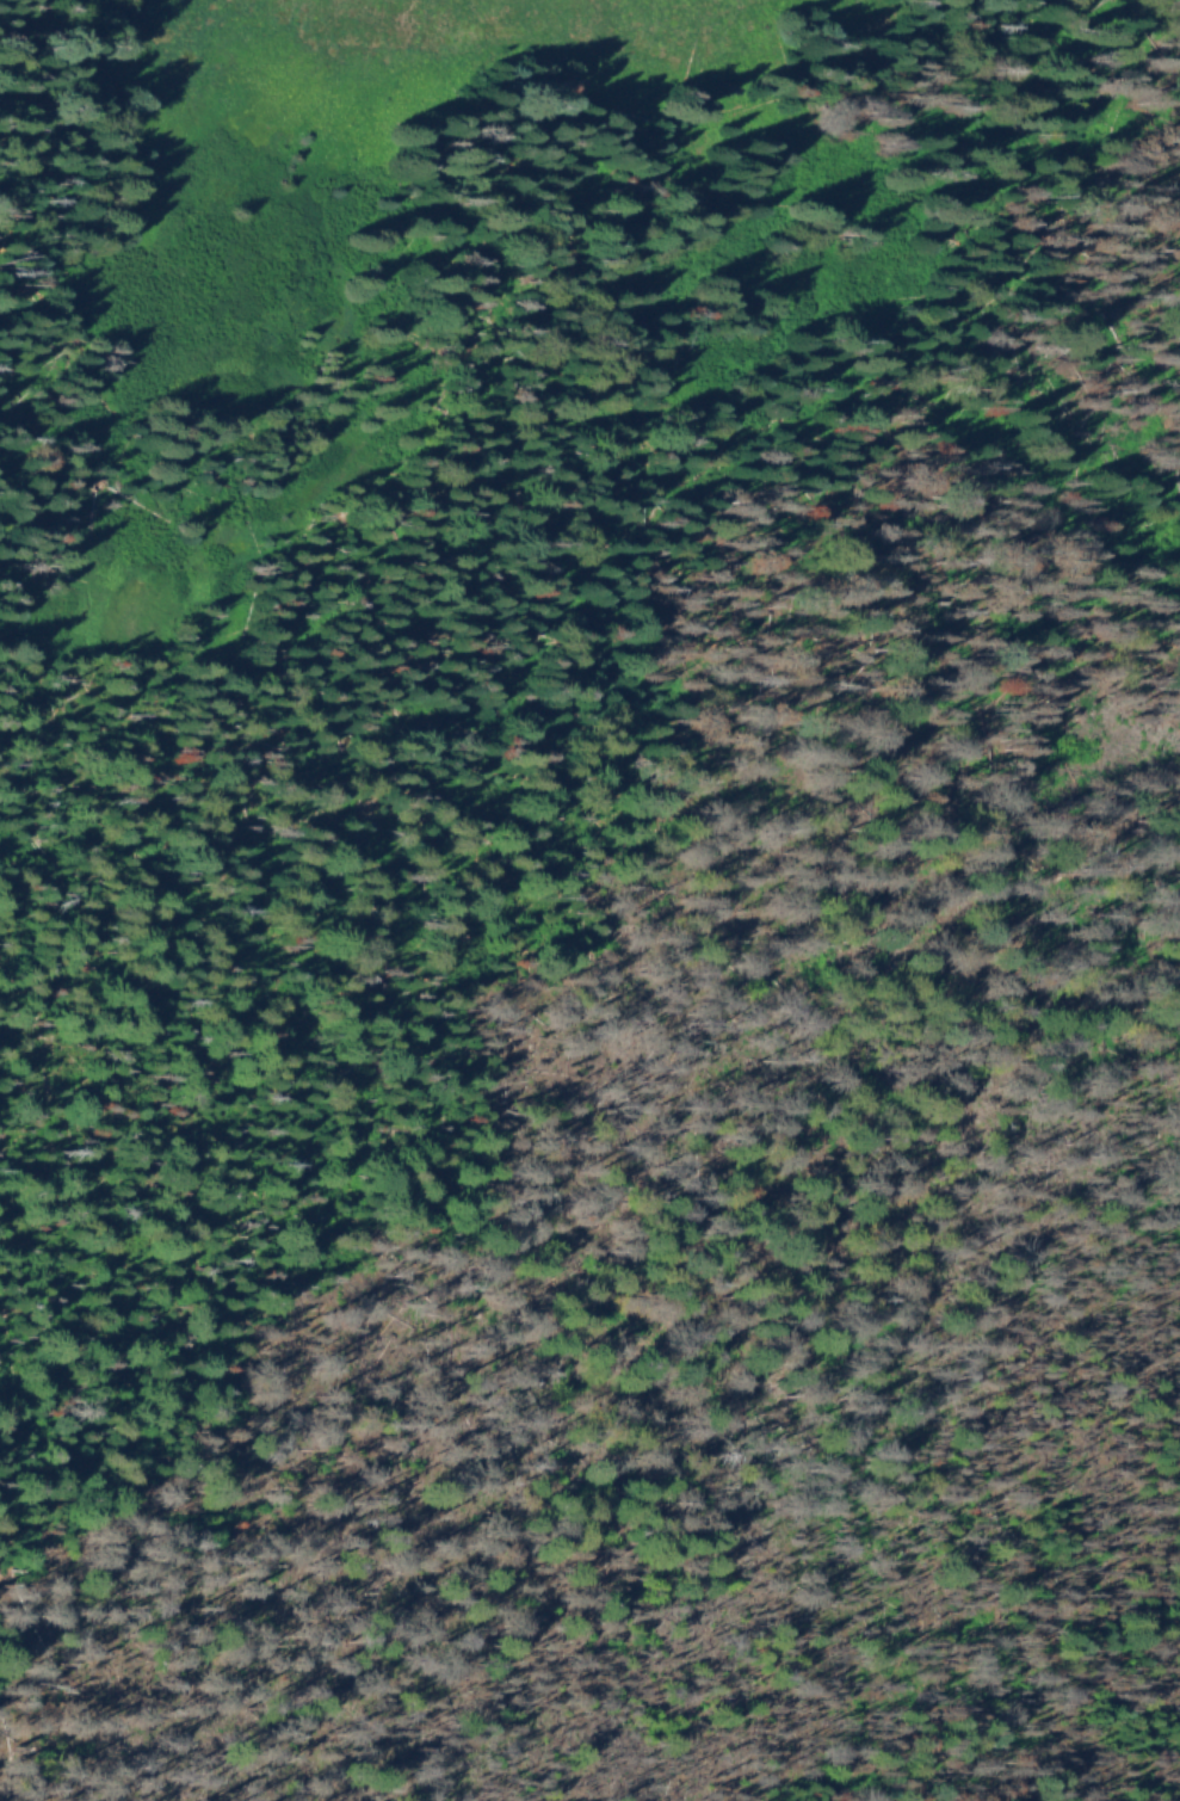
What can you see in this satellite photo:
road: (437, 54)

